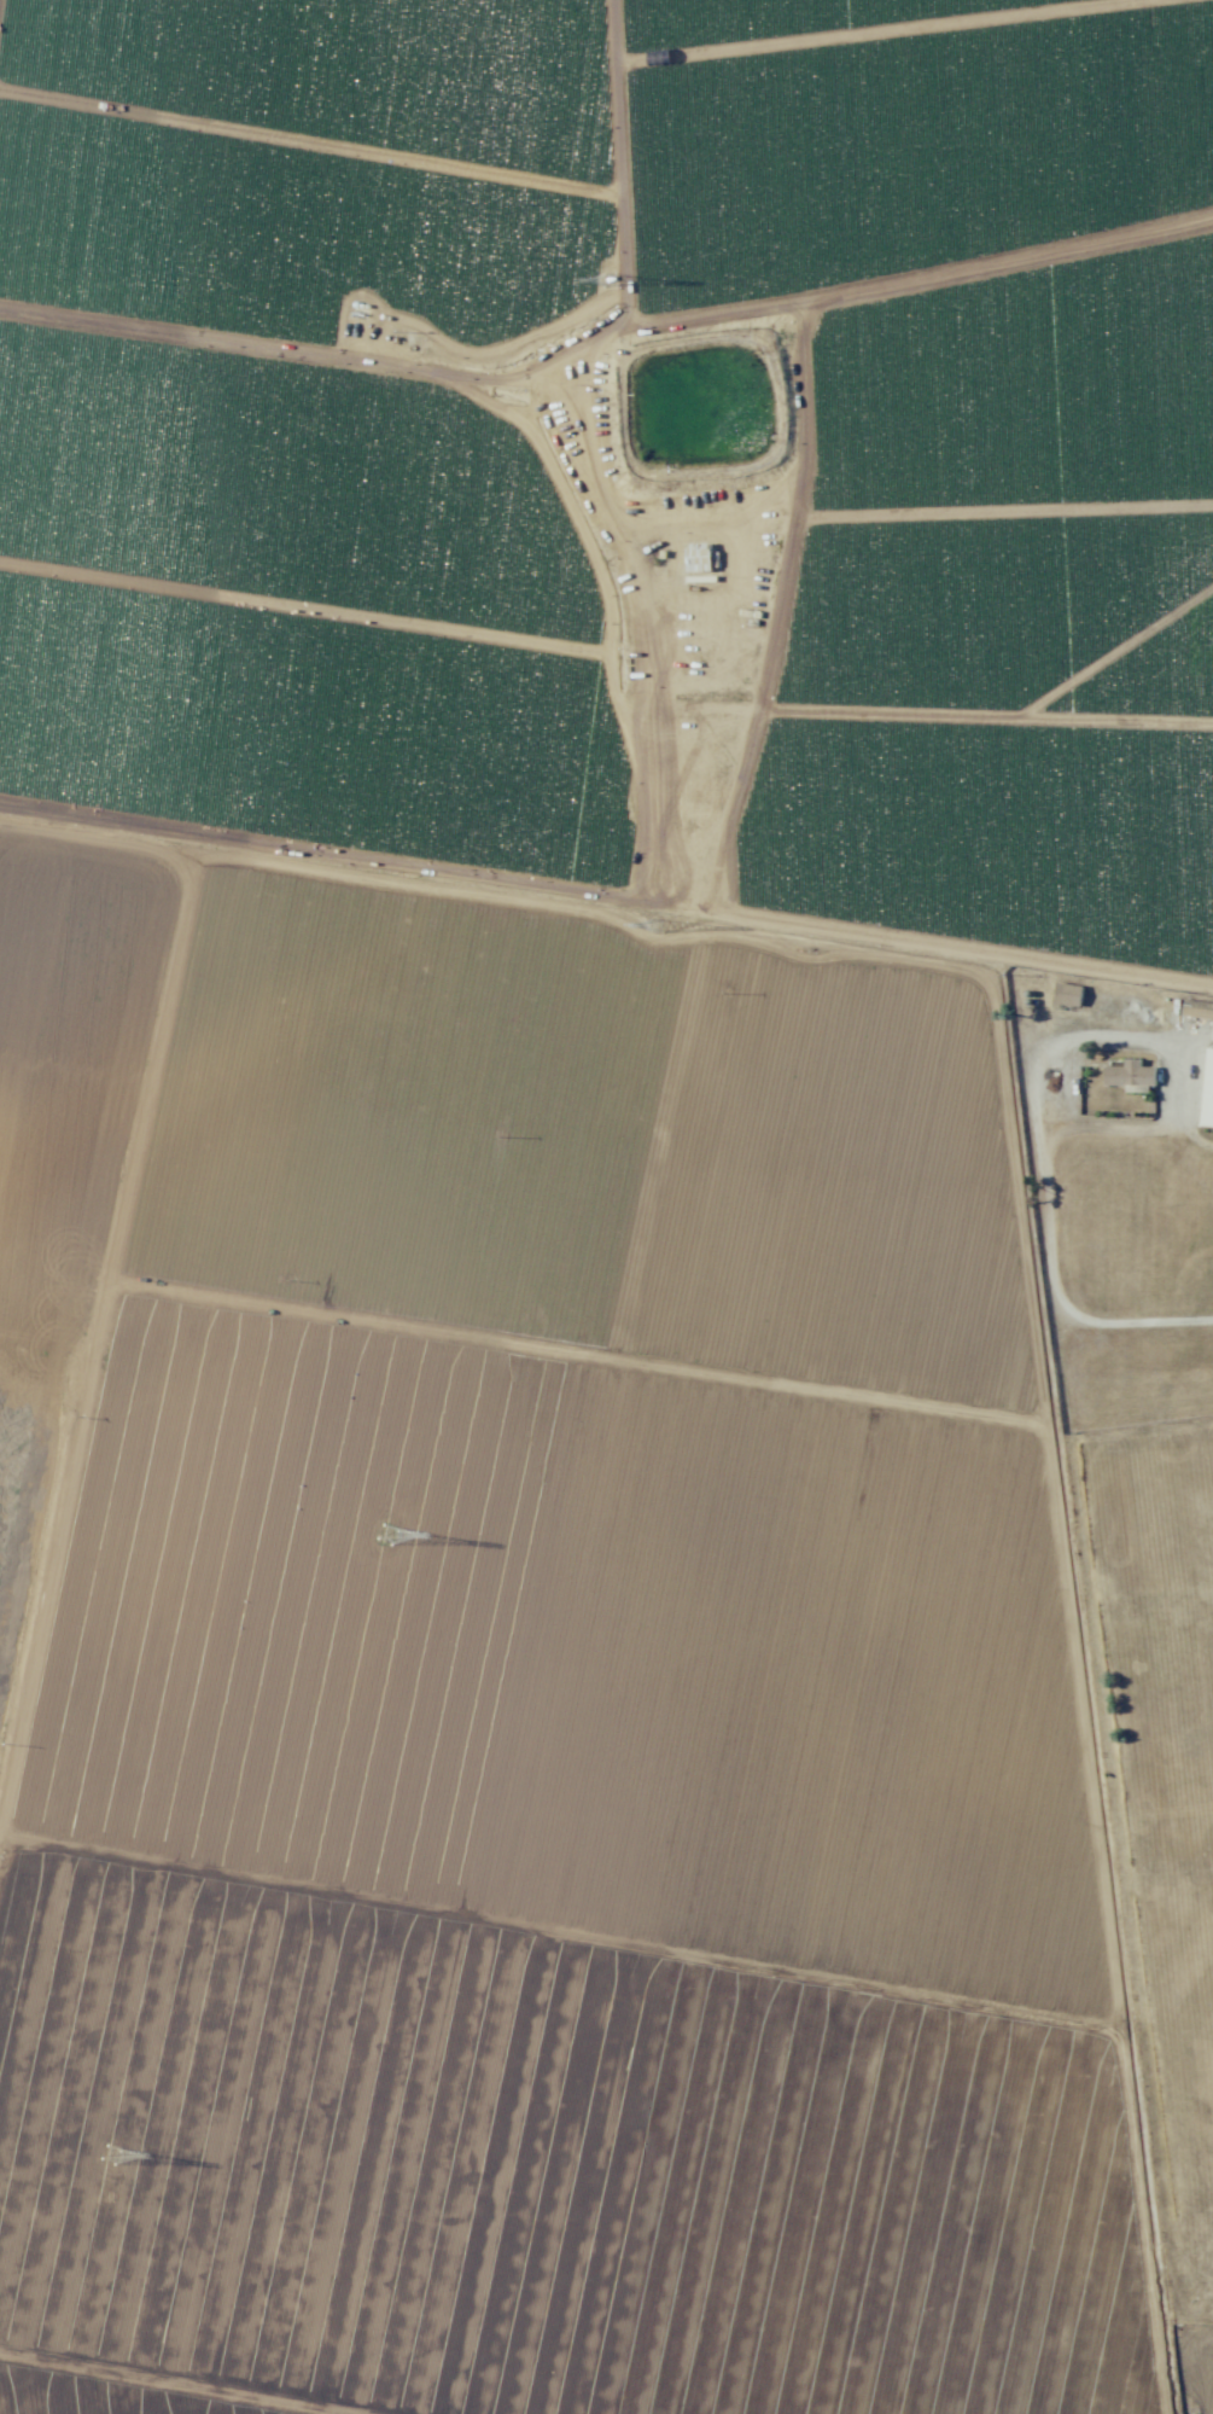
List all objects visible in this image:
power tower: (606, 280)
wastewater plant: (695, 413)
building: (698, 555)
power tower: (654, 926)
road: (875, 943)
building: (1067, 994)
building: (1129, 1074)
building: (1208, 1089)
crop: (567, 1182)
road: (1142, 1319)
power tower: (384, 1536)
power tower: (105, 2154)

